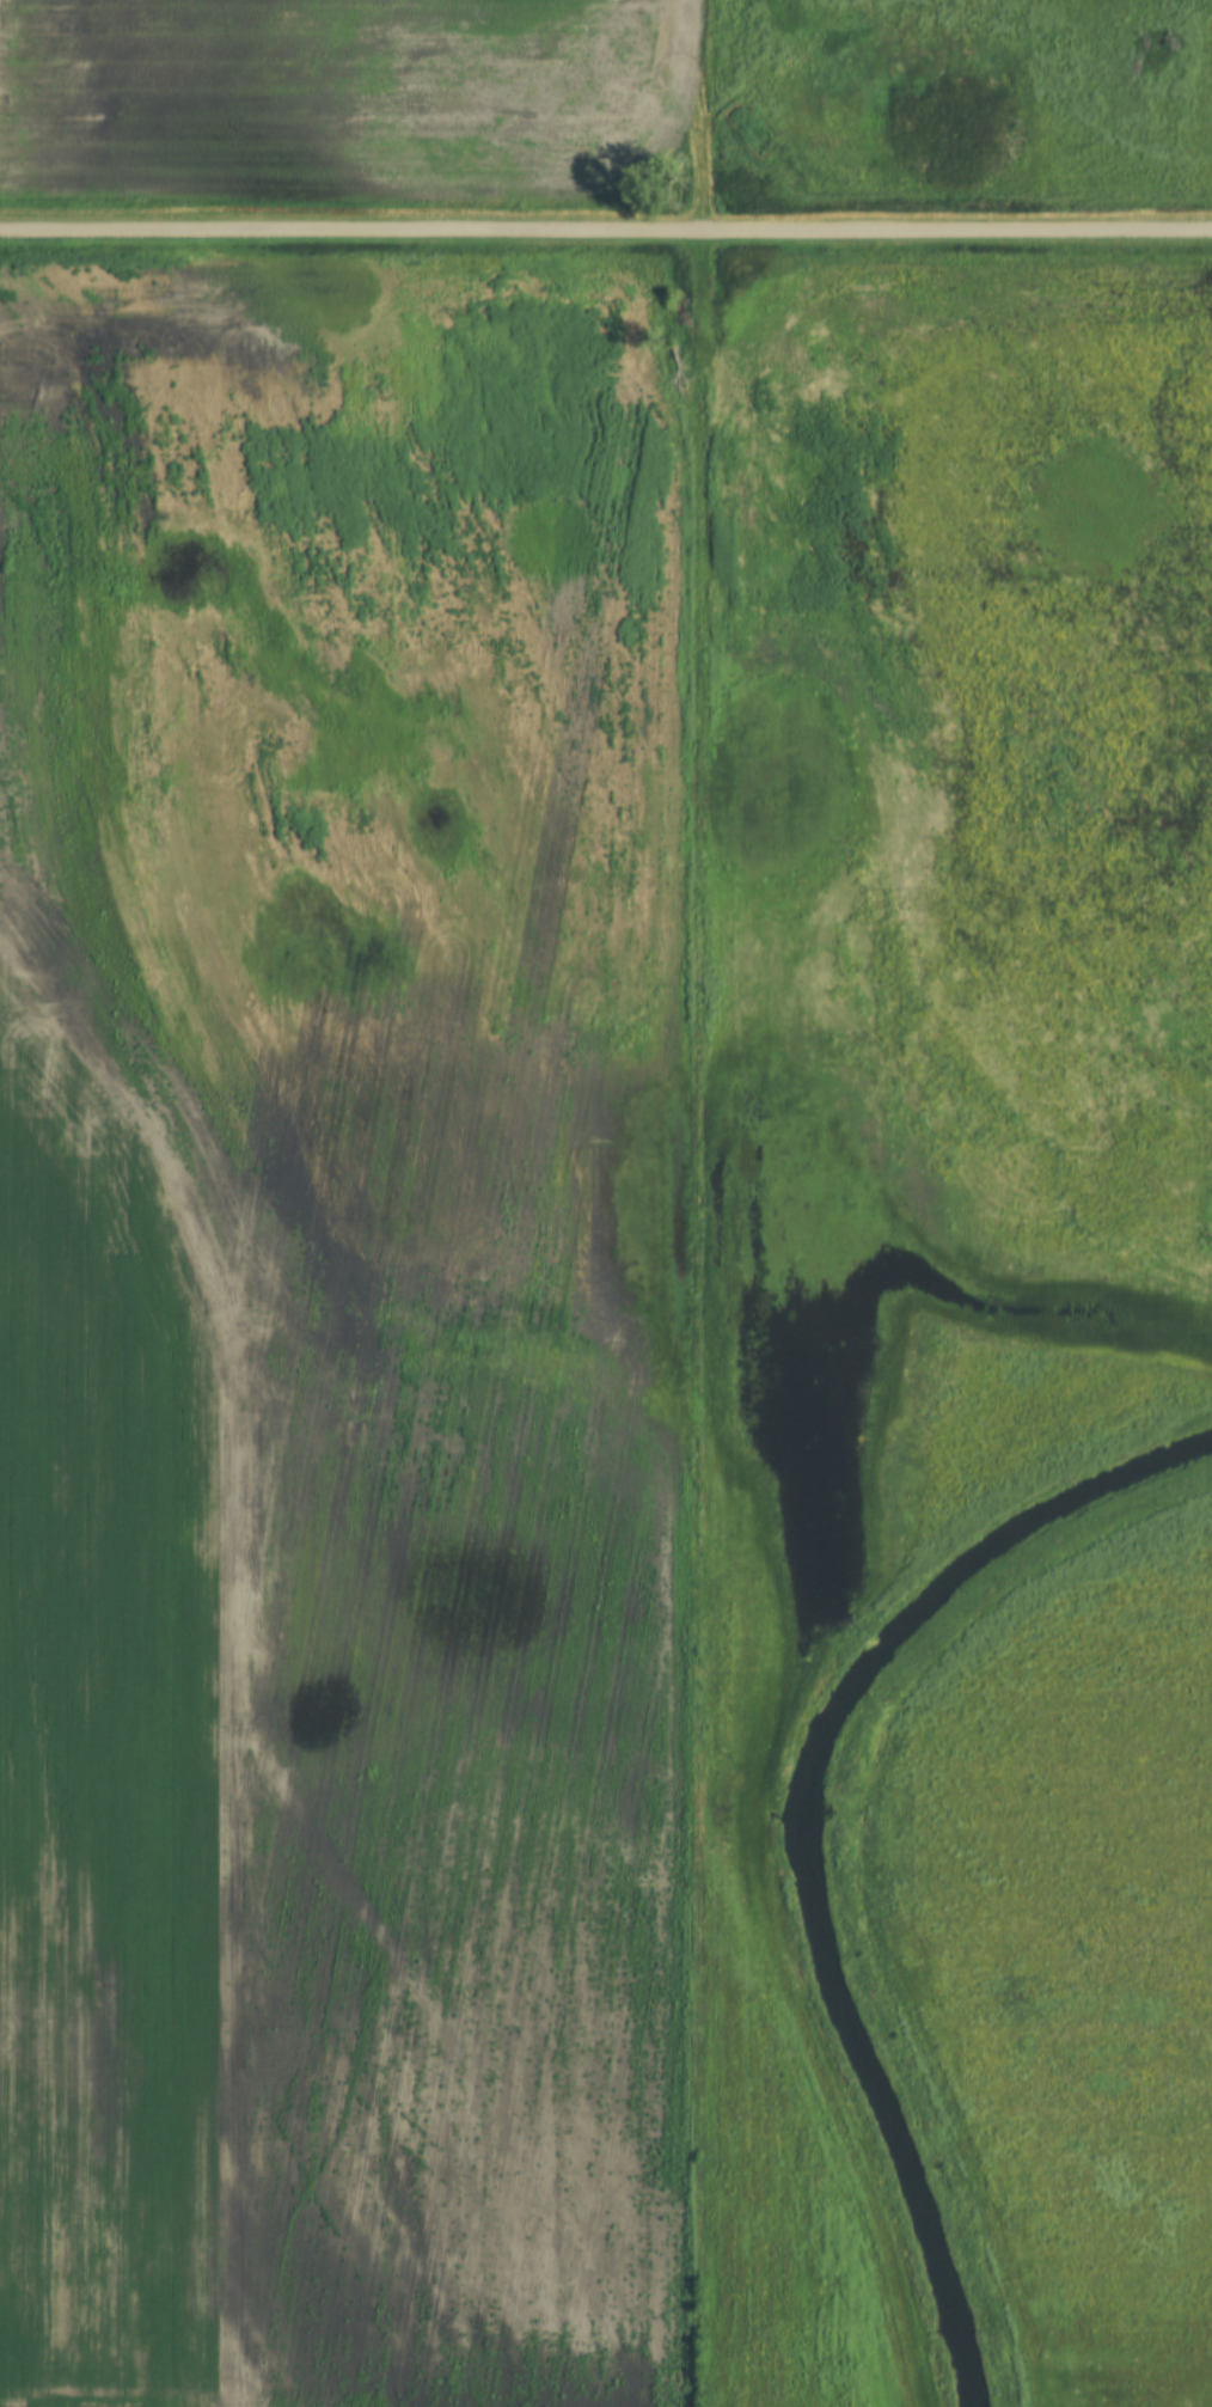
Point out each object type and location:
crop: (337, 98)
road: (605, 230)
crop: (943, 1071)
crop: (343, 1339)
crop: (1067, 1951)

